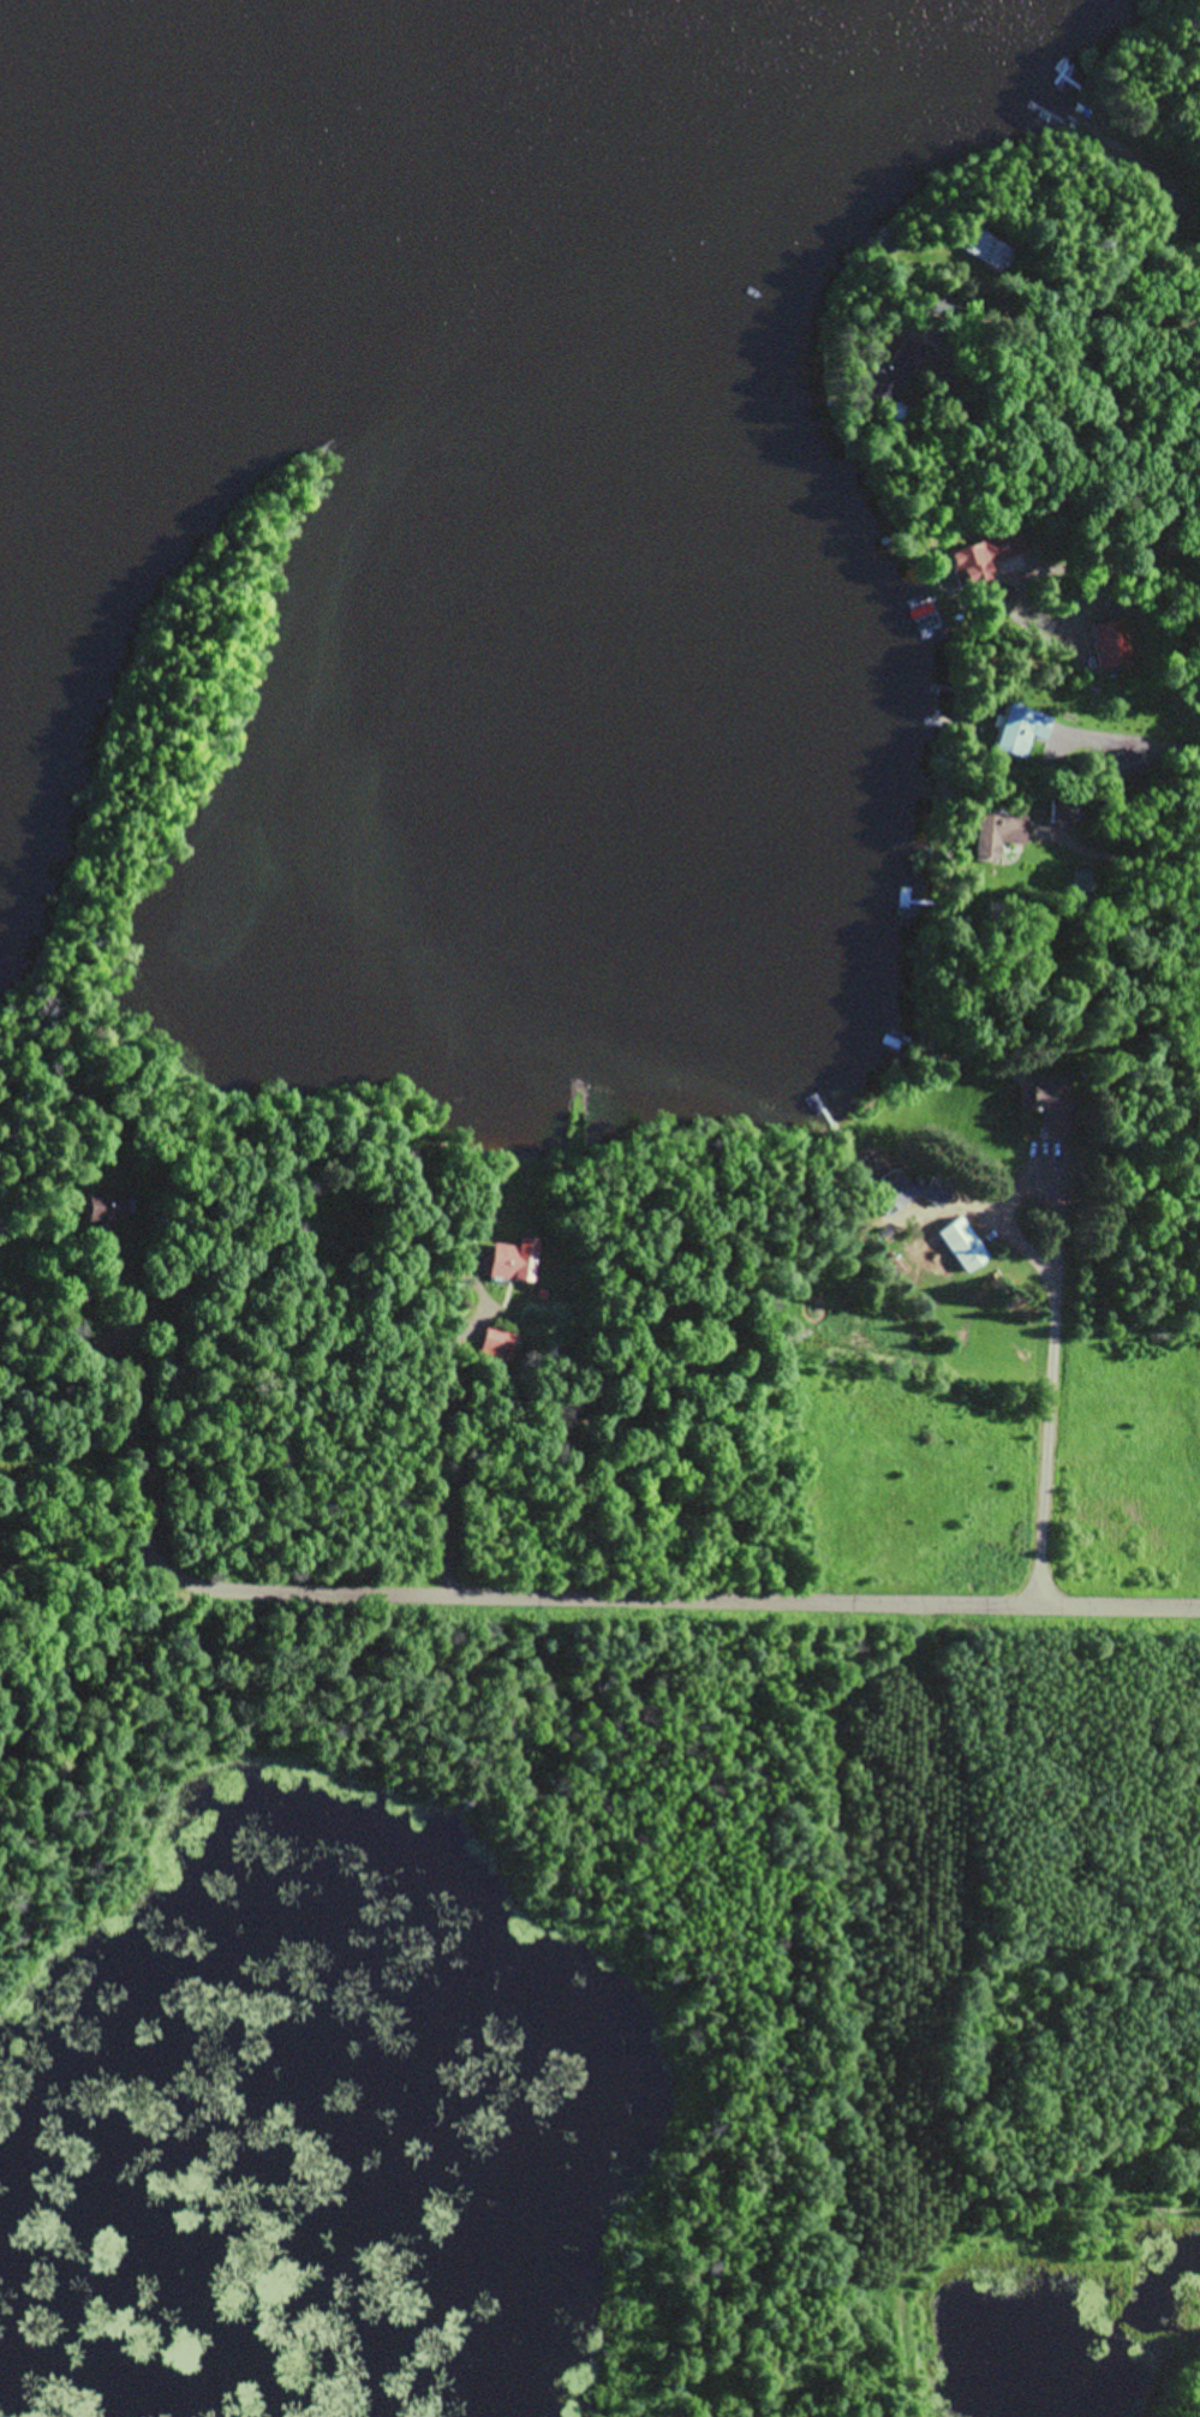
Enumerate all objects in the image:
building: (979, 251)
building: (984, 563)
building: (1021, 734)
road: (1118, 746)
building: (1124, 768)
building: (998, 835)
building: (1083, 891)
building: (1050, 1110)
building: (412, 1164)
building: (892, 1198)
building: (102, 1210)
building: (937, 1217)
building: (962, 1248)
building: (512, 1263)
building: (498, 1348)
road: (1064, 1403)
road: (555, 1606)

